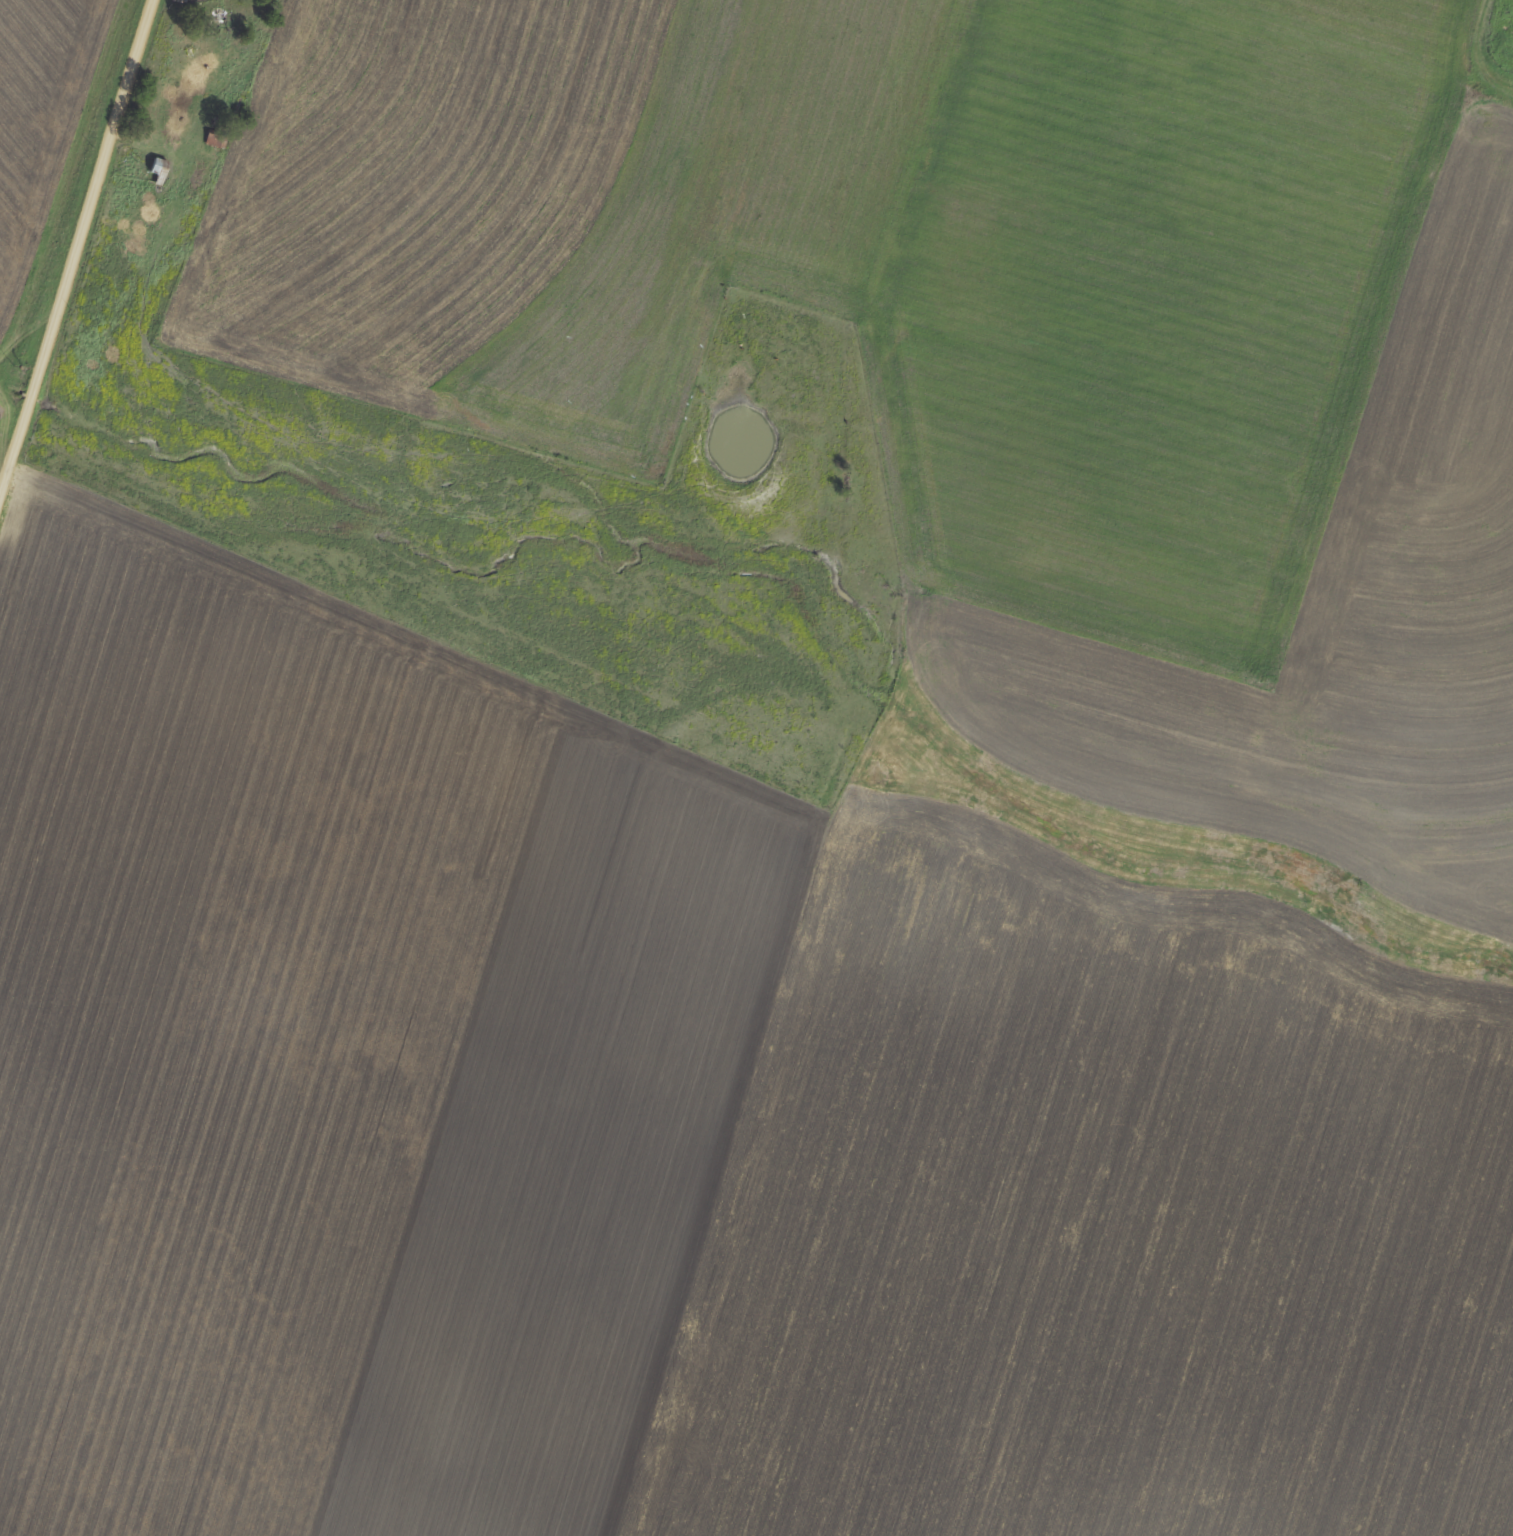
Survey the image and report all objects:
road: (75, 247)

